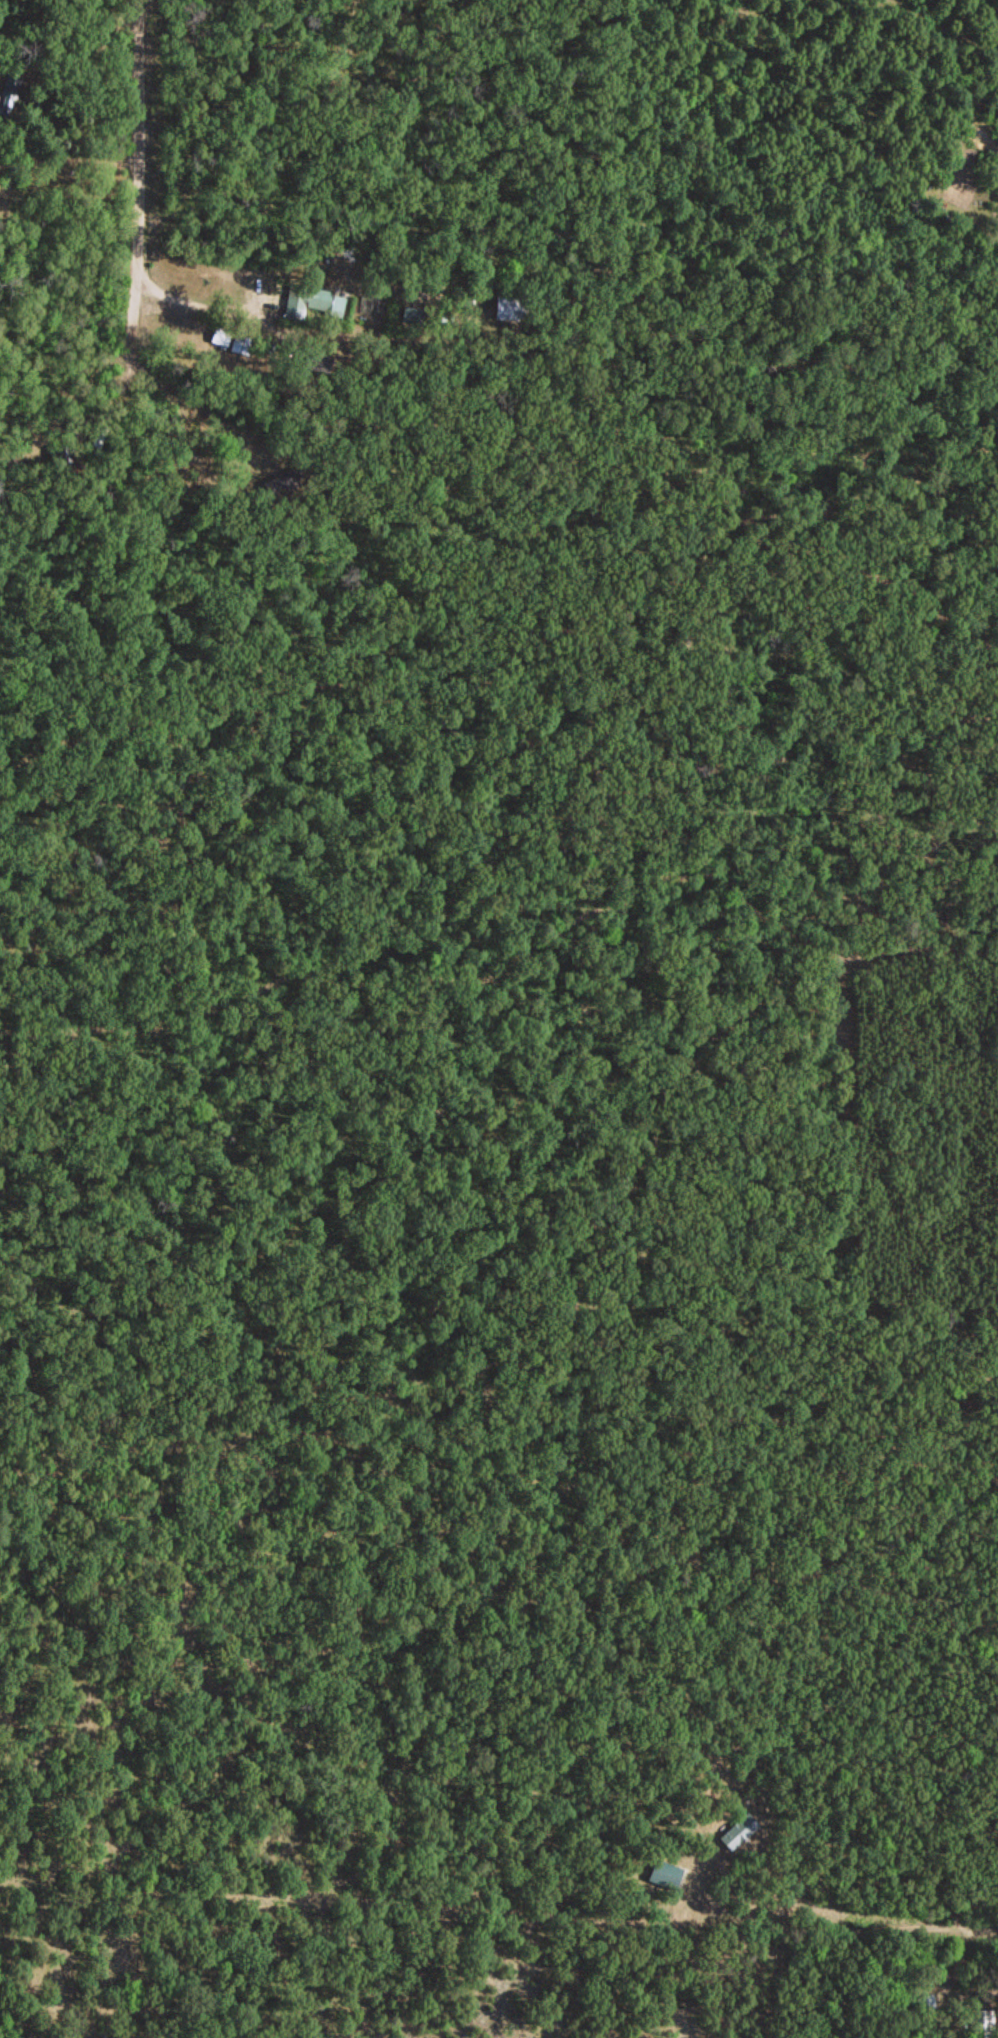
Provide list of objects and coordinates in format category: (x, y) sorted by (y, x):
road: (156, 46)
building: (312, 299)
building: (508, 305)
building: (220, 334)
building: (241, 342)
building: (280, 478)
building: (737, 1830)
building: (663, 1873)
road: (928, 1931)
building: (924, 2001)
building: (981, 2021)

